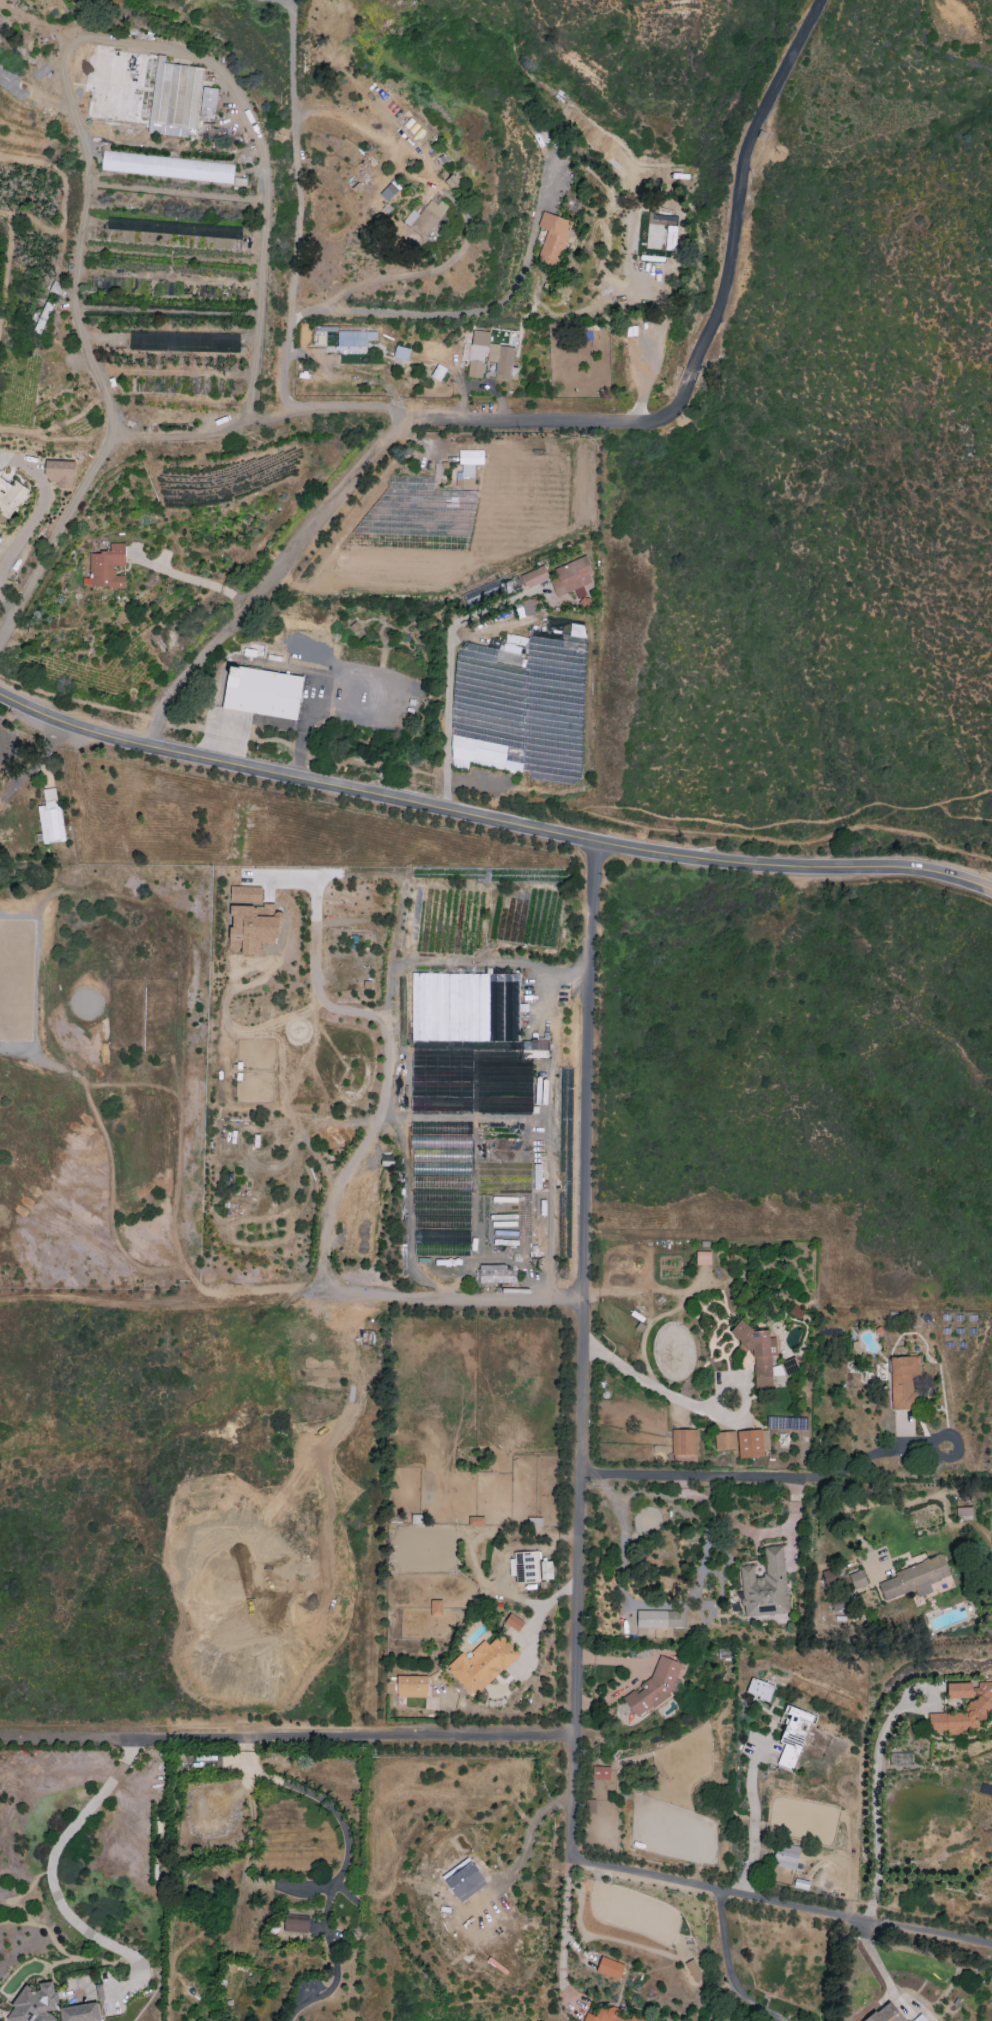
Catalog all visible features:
building: (172, 97)
building: (208, 103)
building: (167, 167)
building: (424, 217)
building: (552, 237)
road: (269, 262)
road: (707, 333)
building: (354, 336)
building: (401, 353)
building: (488, 357)
building: (468, 465)
building: (0, 473)
building: (60, 473)
building: (11, 496)
road: (25, 532)
building: (106, 568)
road: (273, 571)
road: (189, 578)
building: (564, 579)
building: (489, 591)
road: (17, 596)
building: (524, 610)
road: (449, 675)
building: (262, 692)
road: (75, 700)
road: (204, 727)
road: (305, 729)
road: (35, 760)
road: (963, 795)
road: (492, 811)
road: (961, 816)
road: (610, 817)
building: (50, 818)
road: (759, 826)
building: (245, 894)
road: (320, 896)
building: (252, 927)
building: (464, 1007)
building: (535, 1048)
building: (471, 1079)
road: (393, 1111)
road: (335, 1186)
building: (702, 1258)
building: (496, 1274)
road: (384, 1294)
building: (796, 1312)
building: (763, 1356)
road: (651, 1379)
building: (902, 1381)
building: (725, 1440)
building: (684, 1442)
building: (752, 1444)
road: (865, 1457)
building: (684, 1458)
road: (705, 1471)
road: (851, 1518)
road: (580, 1560)
building: (525, 1567)
building: (546, 1570)
building: (857, 1579)
building: (913, 1579)
building: (765, 1586)
building: (436, 1608)
building: (659, 1619)
building: (513, 1622)
building: (481, 1664)
building: (411, 1686)
building: (759, 1689)
building: (977, 1708)
building: (793, 1735)
road: (297, 1737)
road: (9, 1739)
building: (600, 1773)
road: (876, 1803)
road: (753, 1818)
road: (527, 1842)
building: (786, 1856)
road: (344, 1868)
road: (51, 1880)
building: (464, 1880)
road: (930, 1916)
building: (295, 1926)
road: (564, 1930)
building: (609, 1968)
building: (693, 1970)
road: (728, 1970)
building: (33, 2004)
building: (80, 2013)
building: (886, 2014)
building: (608, 2016)
building: (919, 2018)

